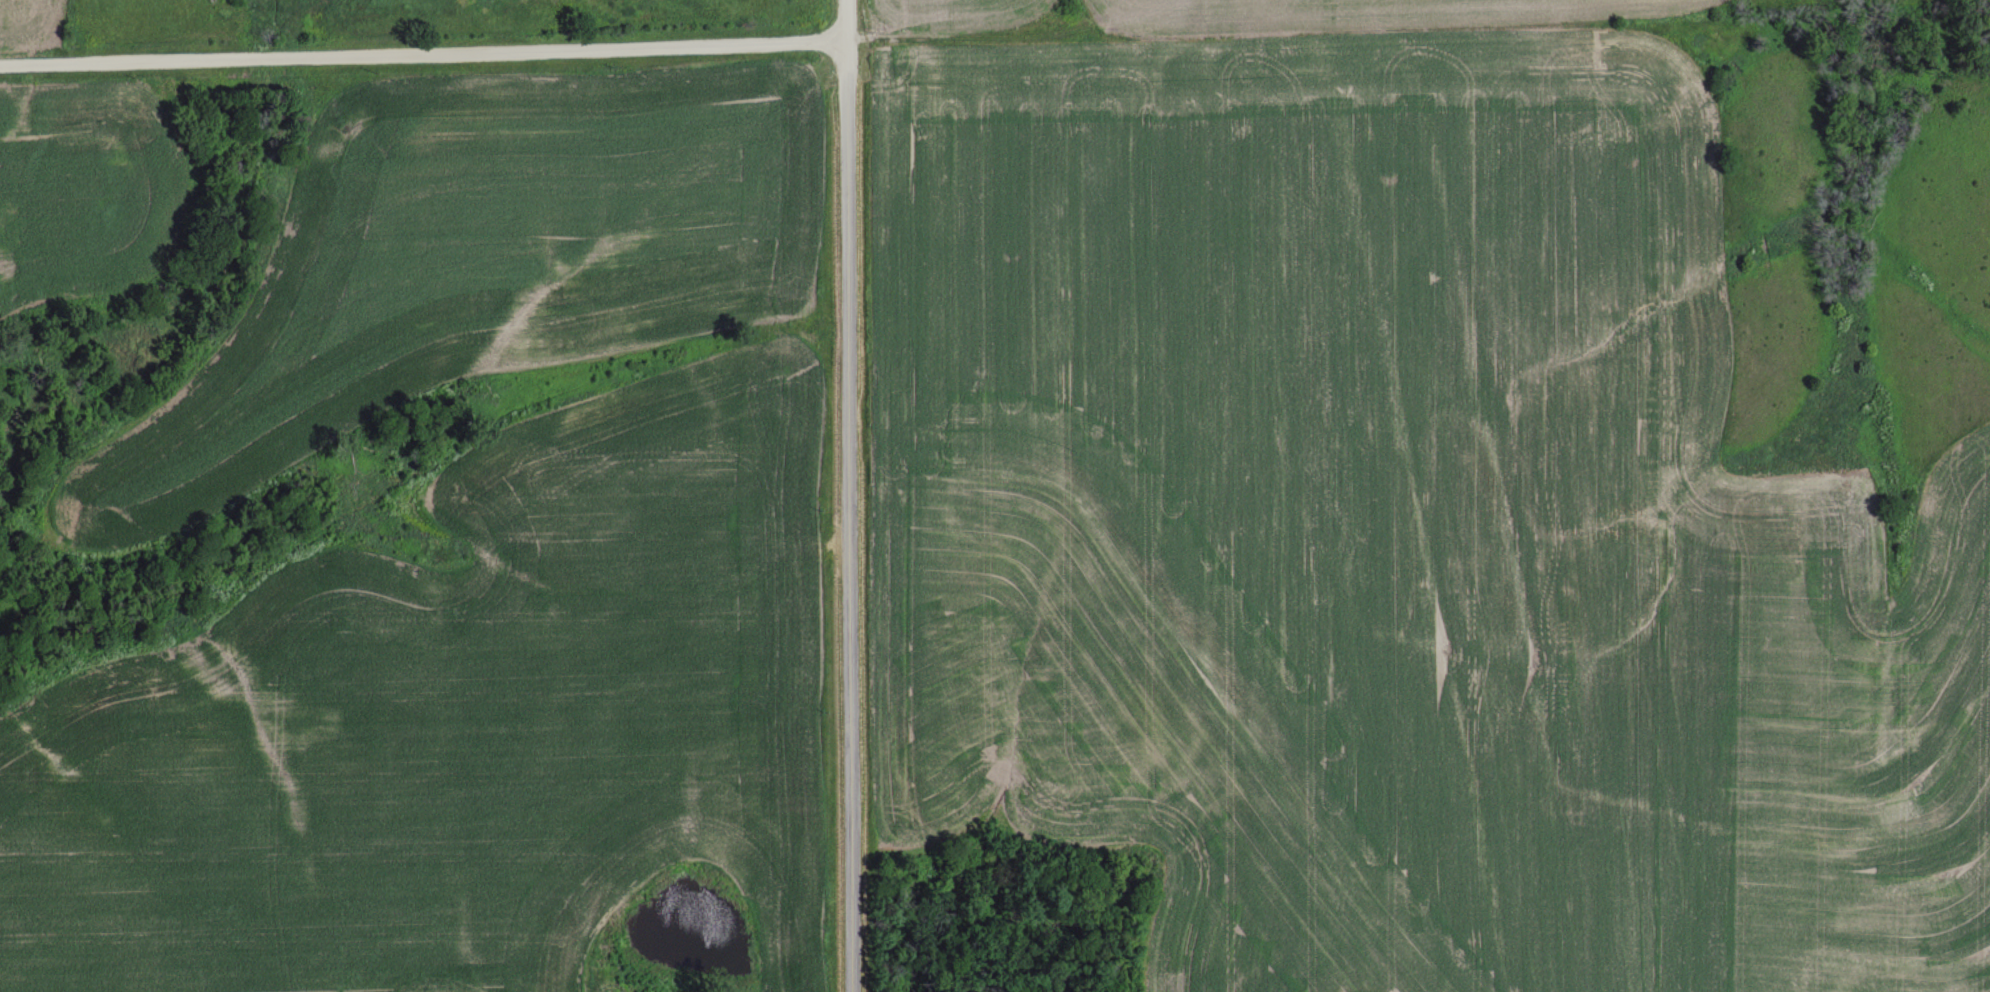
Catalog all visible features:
road: (421, 51)
road: (849, 495)

